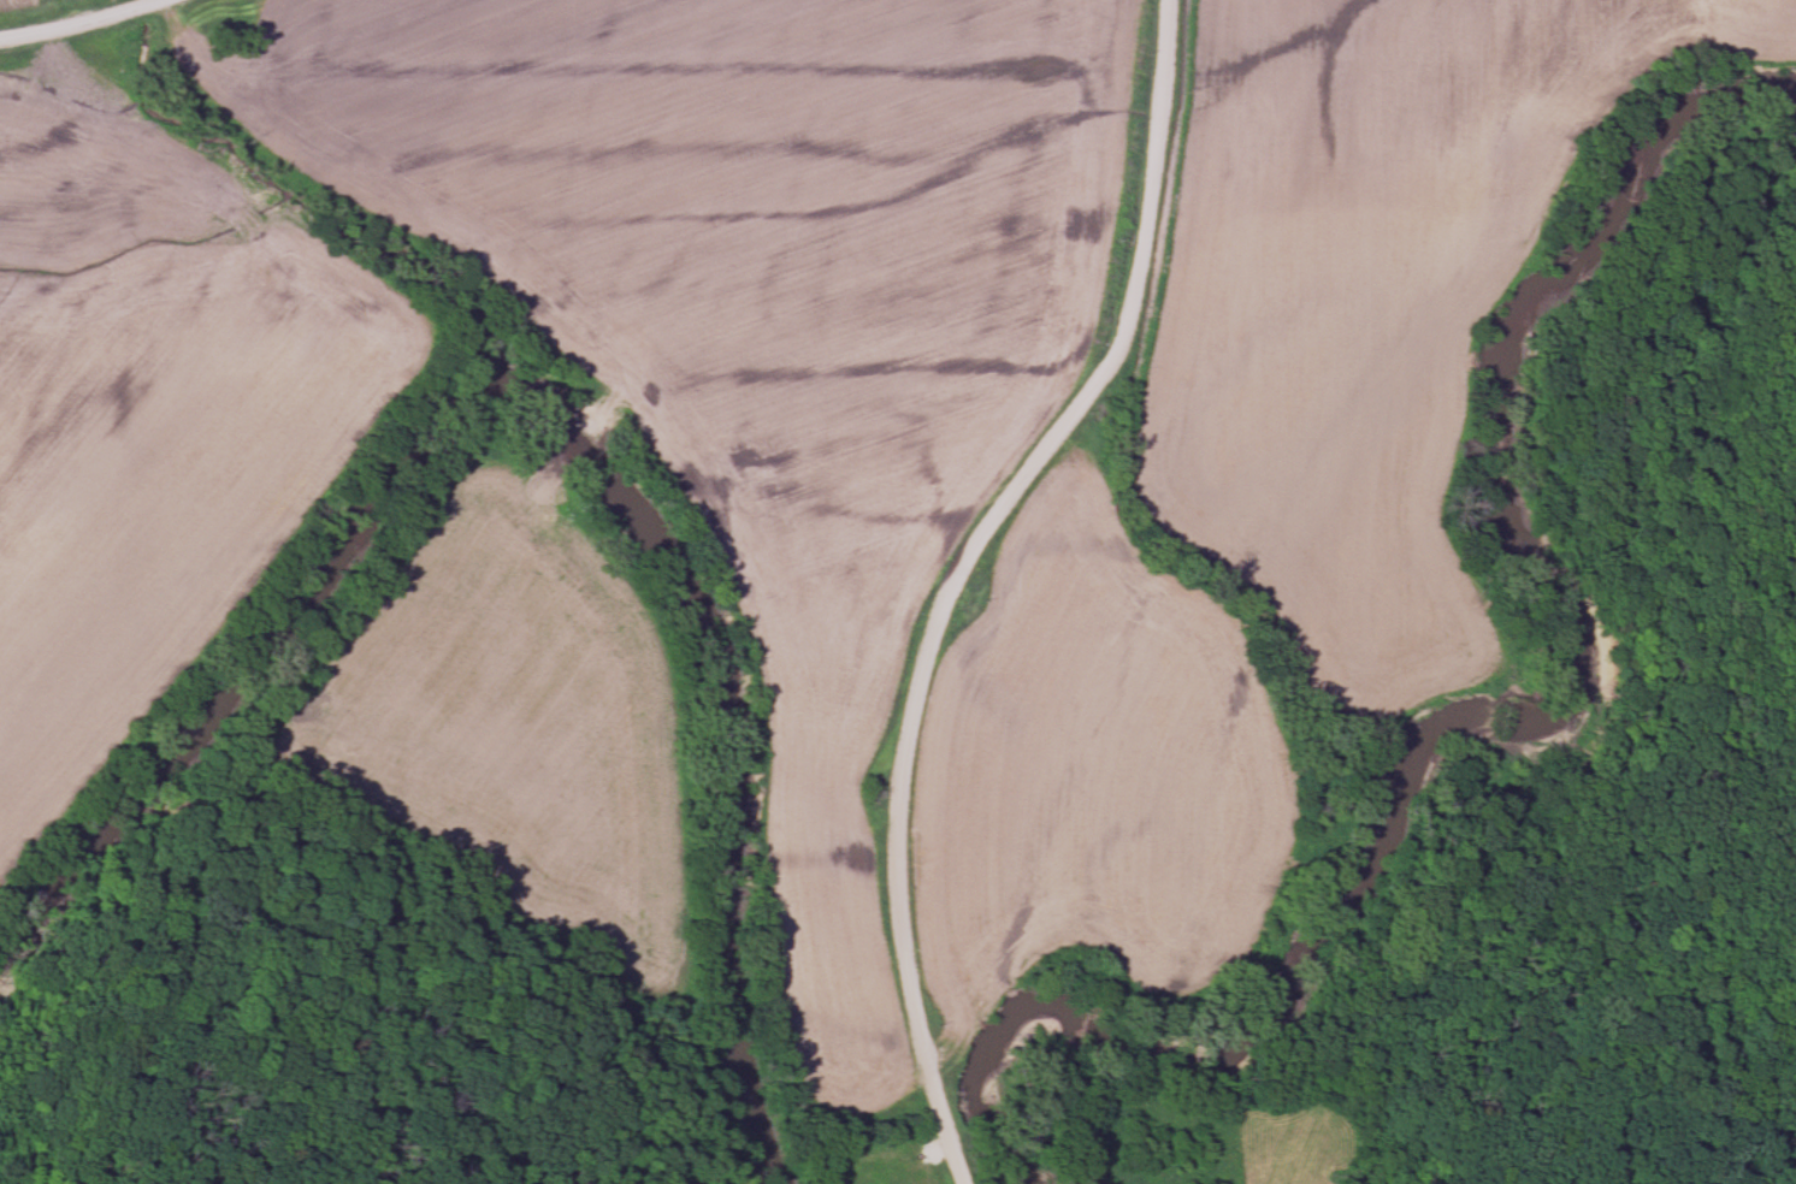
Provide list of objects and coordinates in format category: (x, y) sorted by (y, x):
road: (79, 24)
road: (971, 546)
road: (946, 1155)

